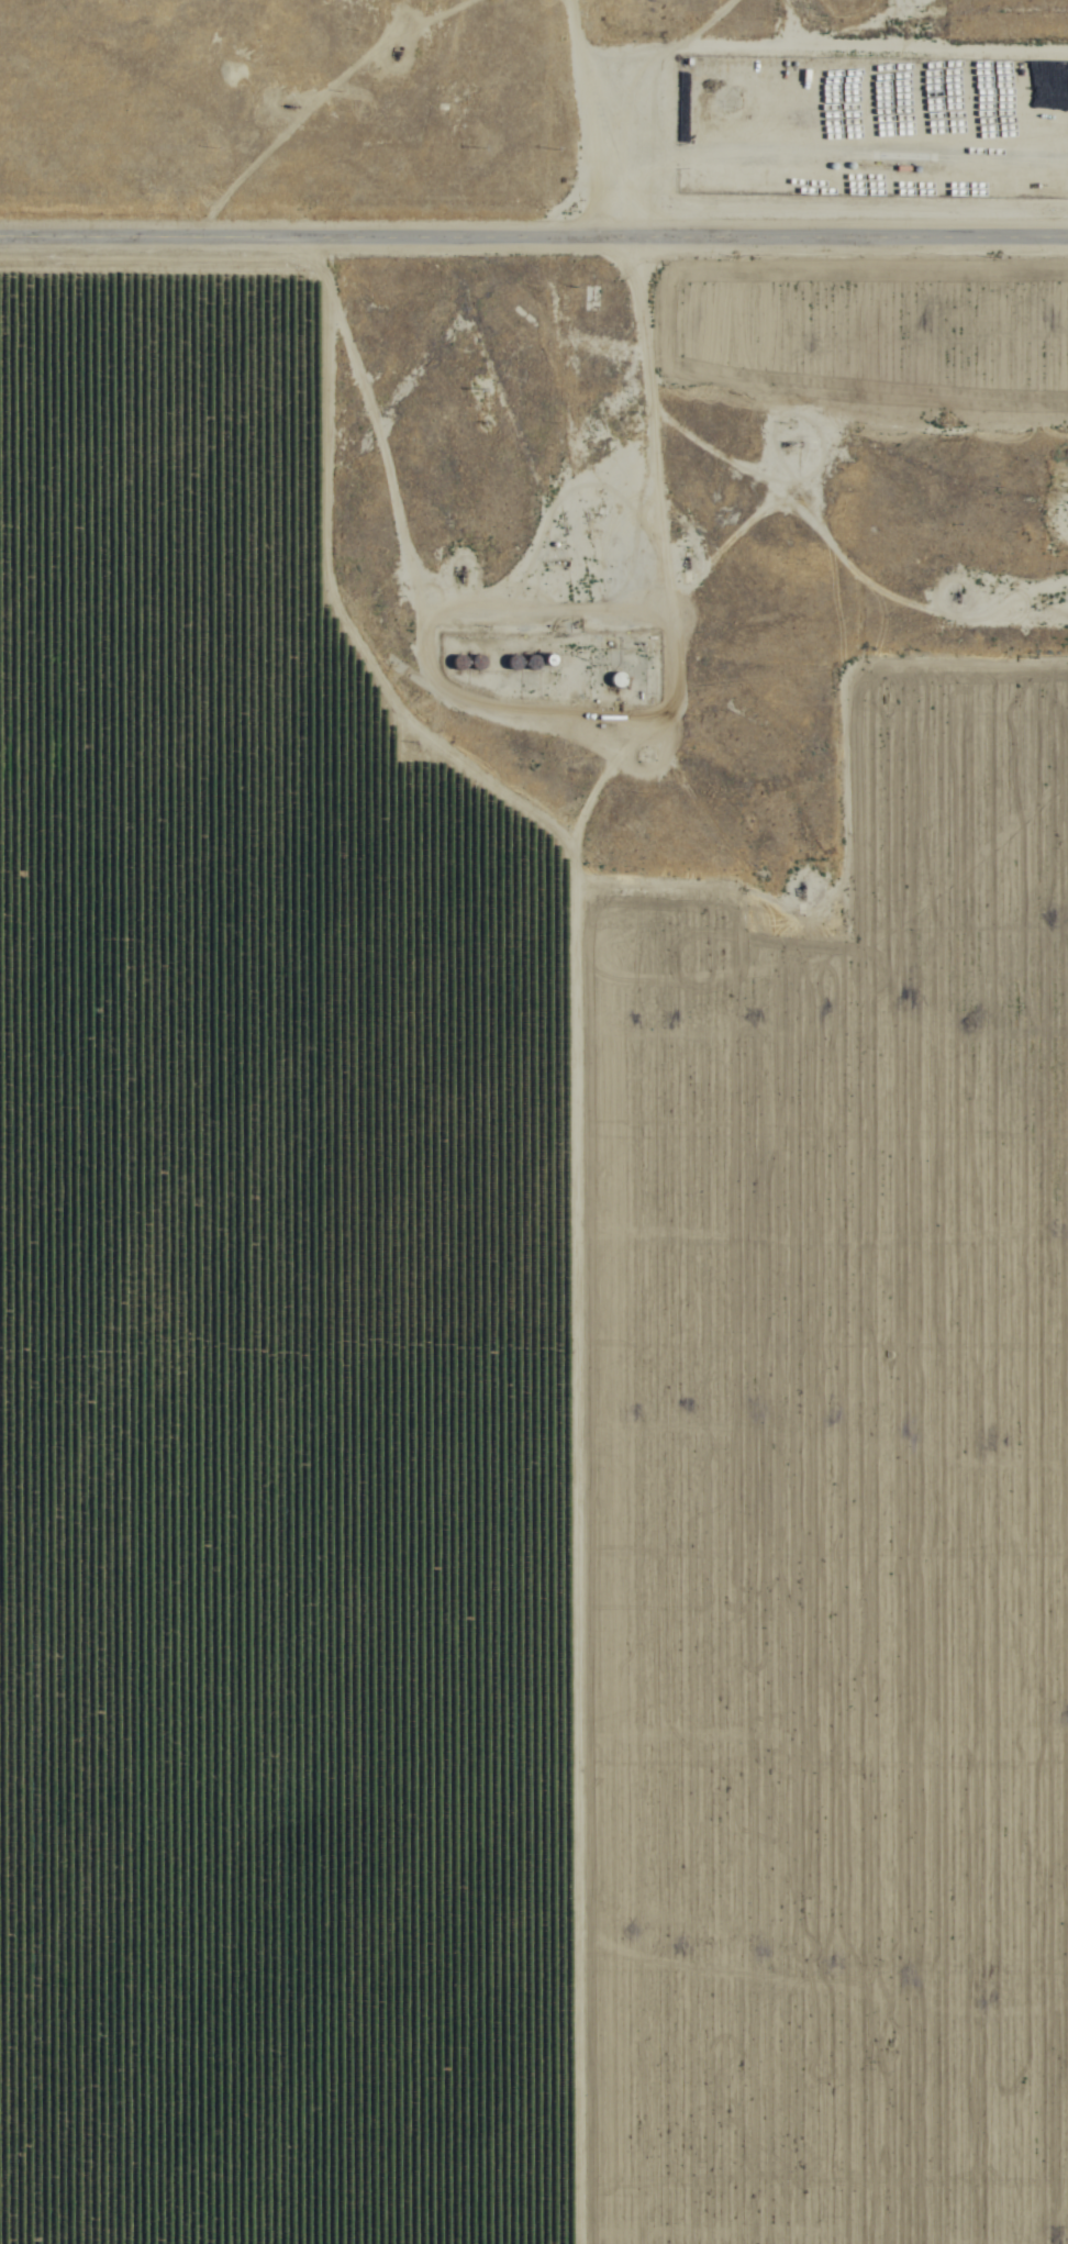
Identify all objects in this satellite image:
road: (538, 119)
road: (534, 238)
crop: (860, 282)
road: (806, 1041)
road: (537, 1134)
crop: (500, 1395)

